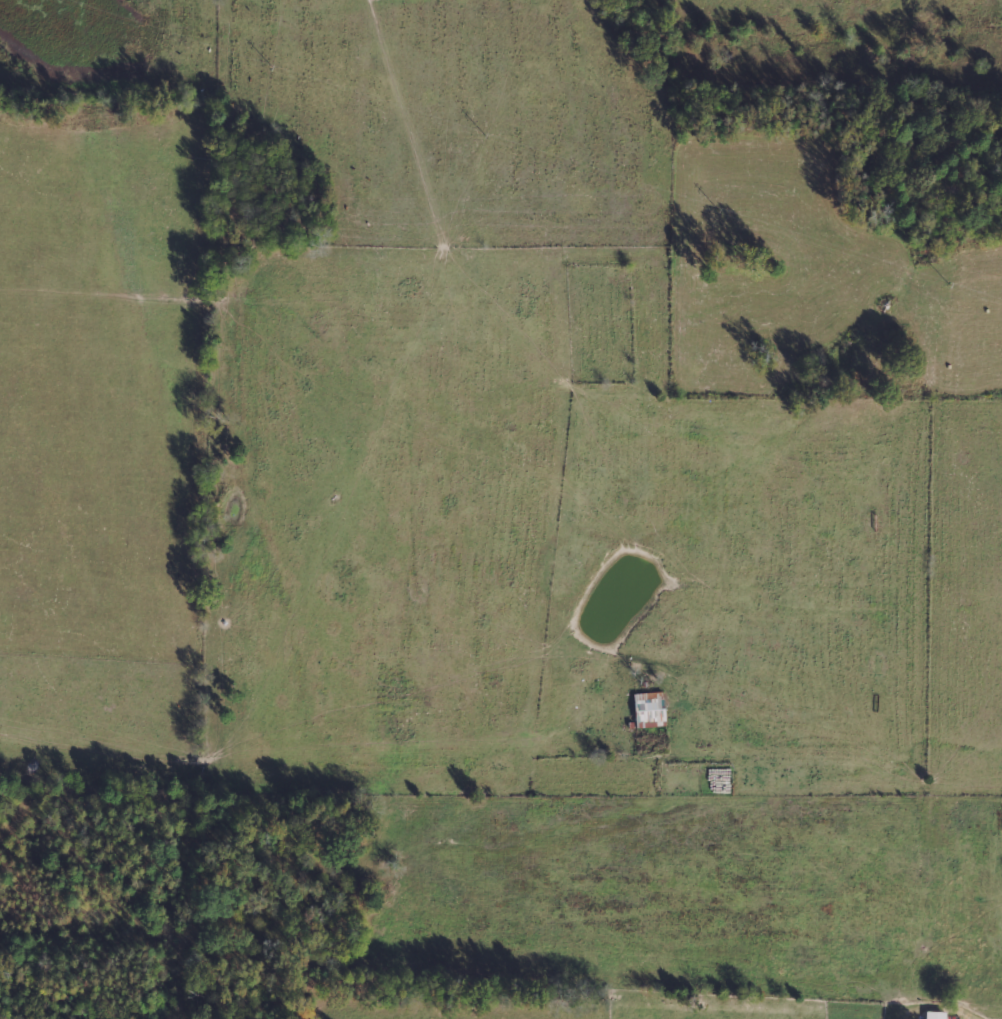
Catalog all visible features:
building: (650, 710)
building: (935, 1015)

